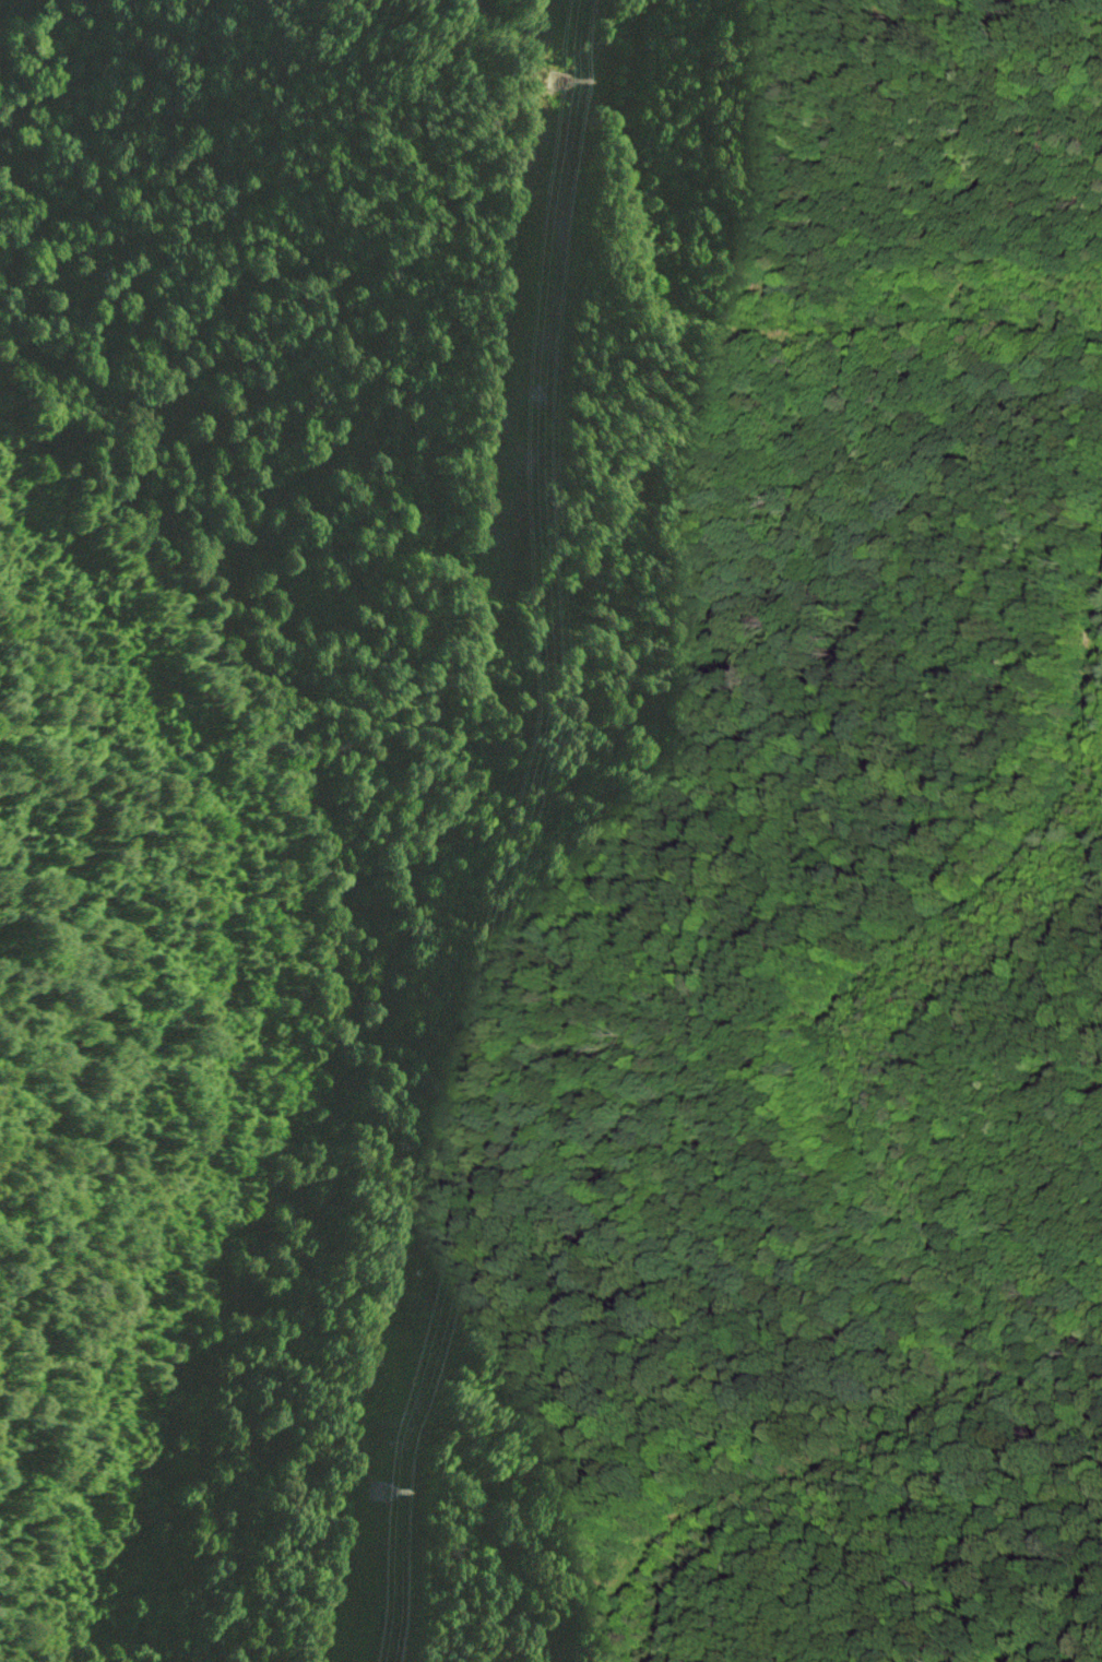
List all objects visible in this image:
power tower: (558, 83)
power tower: (379, 1489)

